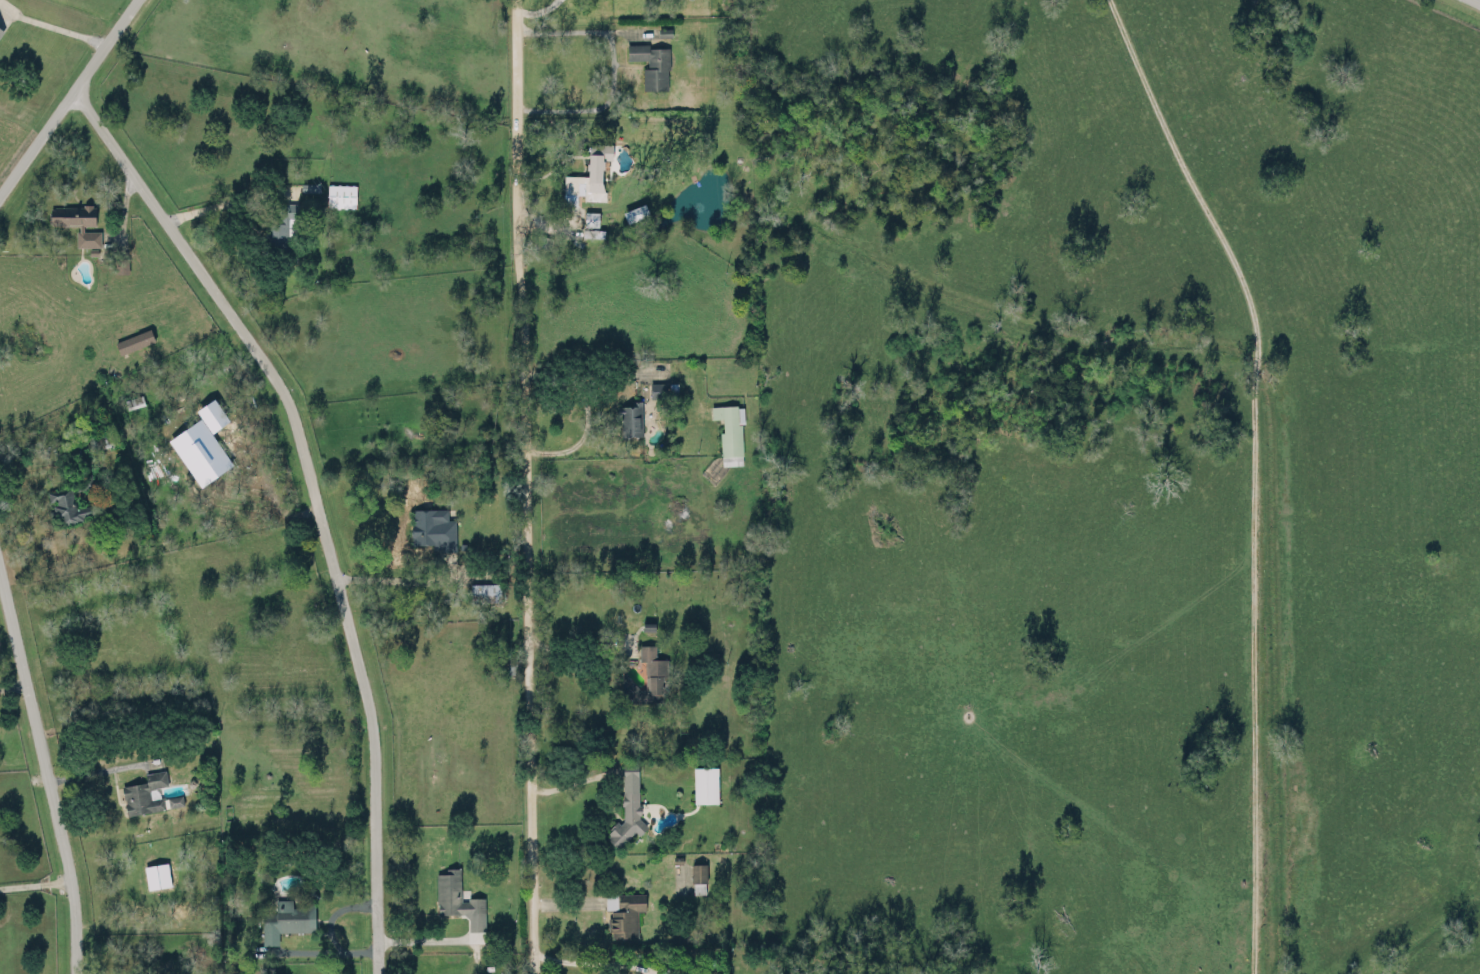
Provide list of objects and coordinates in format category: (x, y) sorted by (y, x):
road: (1476, 2)
road: (58, 26)
building: (1, 28)
building: (651, 62)
road: (611, 65)
road: (67, 95)
building: (595, 164)
building: (310, 186)
building: (341, 194)
road: (220, 202)
building: (591, 217)
building: (79, 220)
building: (284, 224)
building: (120, 263)
building: (134, 339)
building: (657, 388)
building: (134, 400)
road: (585, 411)
building: (630, 419)
building: (730, 431)
road: (37, 462)
road: (1259, 470)
road: (526, 486)
road: (314, 499)
building: (431, 526)
road: (395, 577)
building: (484, 591)
road: (577, 643)
building: (652, 672)
road: (12, 685)
road: (44, 771)
road: (96, 771)
road: (571, 780)
building: (705, 783)
building: (148, 793)
building: (627, 803)
building: (697, 870)
building: (157, 874)
road: (34, 881)
building: (459, 898)
building: (624, 913)
road: (335, 914)
building: (286, 919)
road: (426, 938)
road: (324, 949)
road: (593, 960)

